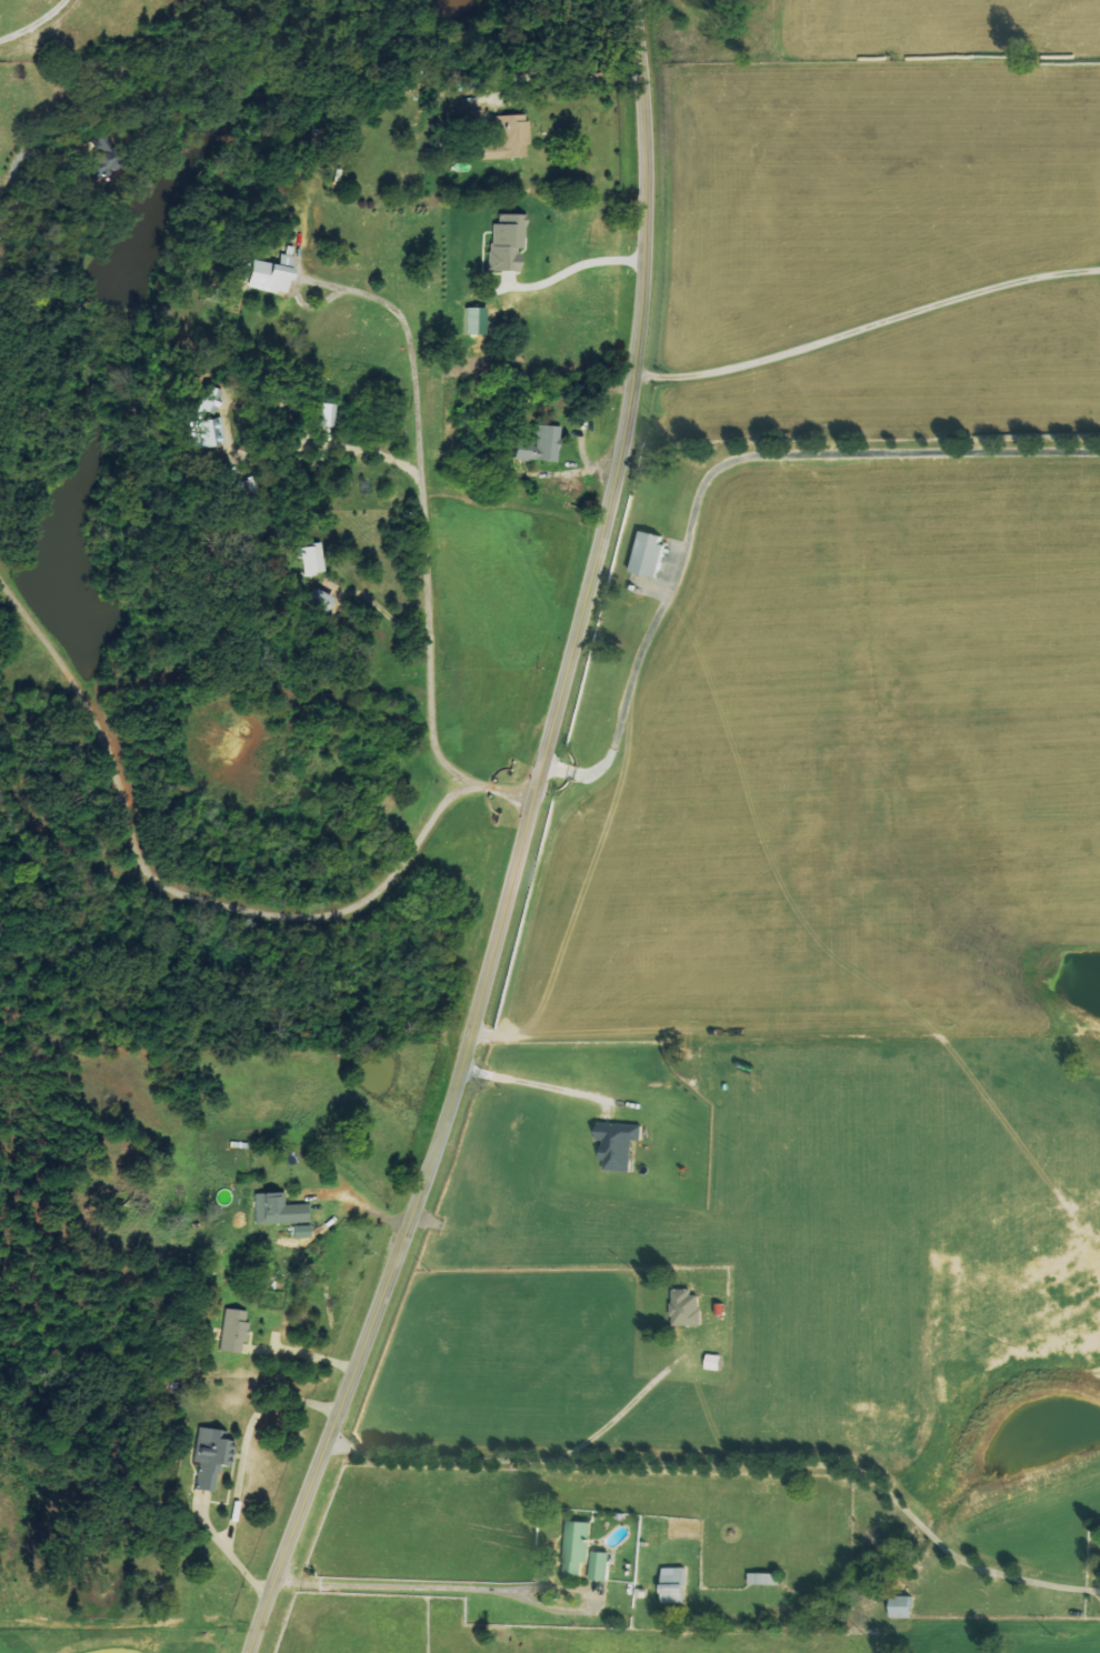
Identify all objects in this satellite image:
building: (508, 139)
building: (101, 149)
building: (506, 243)
building: (272, 274)
building: (474, 320)
building: (210, 399)
building: (327, 414)
building: (210, 432)
building: (542, 444)
road: (421, 539)
building: (653, 553)
building: (312, 559)
building: (322, 601)
road: (530, 841)
road: (170, 889)
road: (539, 1085)
building: (621, 1144)
road: (362, 1204)
building: (278, 1210)
building: (689, 1308)
building: (233, 1330)
building: (210, 1457)
road: (738, 1462)
building: (579, 1547)
building: (602, 1565)
building: (768, 1579)
building: (679, 1585)
building: (907, 1607)

